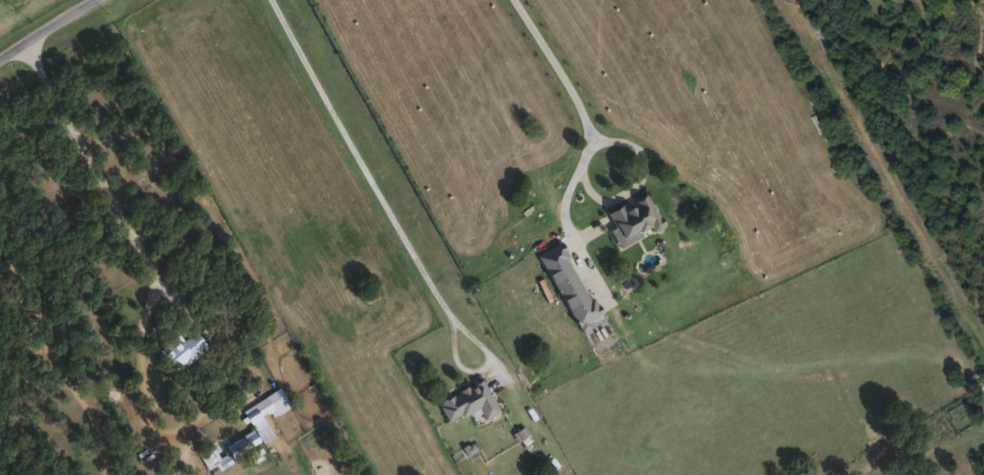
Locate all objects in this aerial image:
road: (49, 30)
road: (594, 132)
road: (362, 162)
road: (643, 180)
building: (632, 219)
road: (134, 227)
building: (567, 285)
building: (181, 349)
building: (467, 401)
building: (256, 412)
building: (245, 446)
building: (211, 457)

